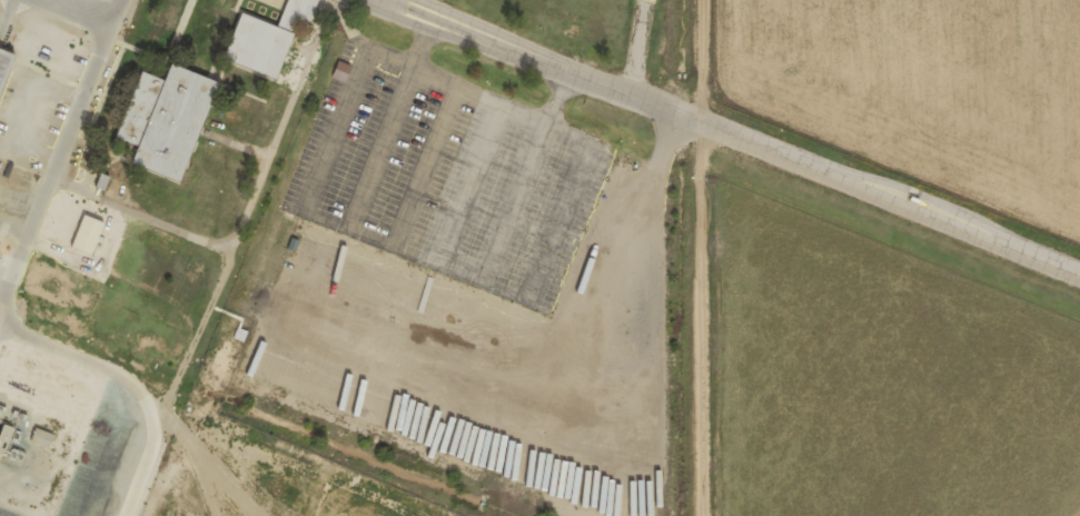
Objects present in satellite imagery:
building: (267, 38)
road: (527, 59)
building: (4, 69)
building: (341, 70)
building: (167, 119)
road: (879, 199)
building: (88, 234)
road: (677, 258)
building: (42, 437)

